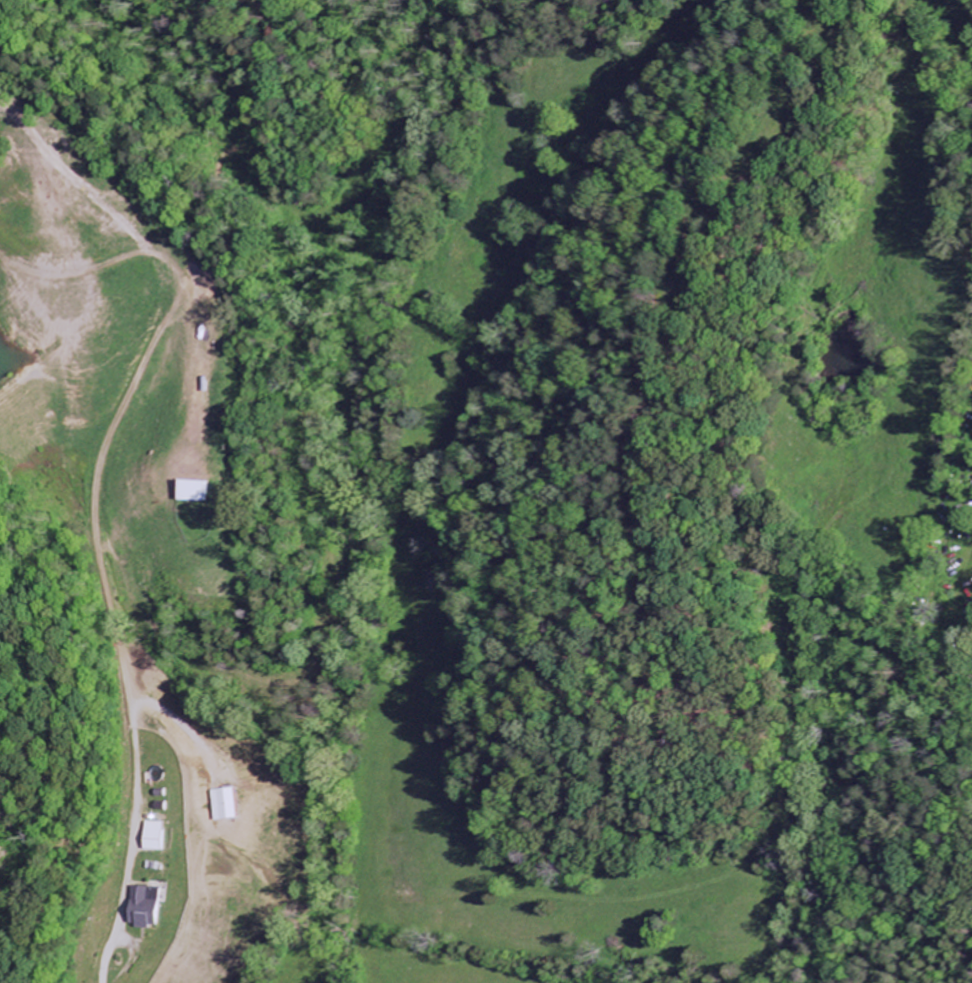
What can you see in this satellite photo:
building: (201, 491)
road: (94, 498)
building: (231, 805)
building: (150, 910)
road: (127, 940)
road: (93, 980)

